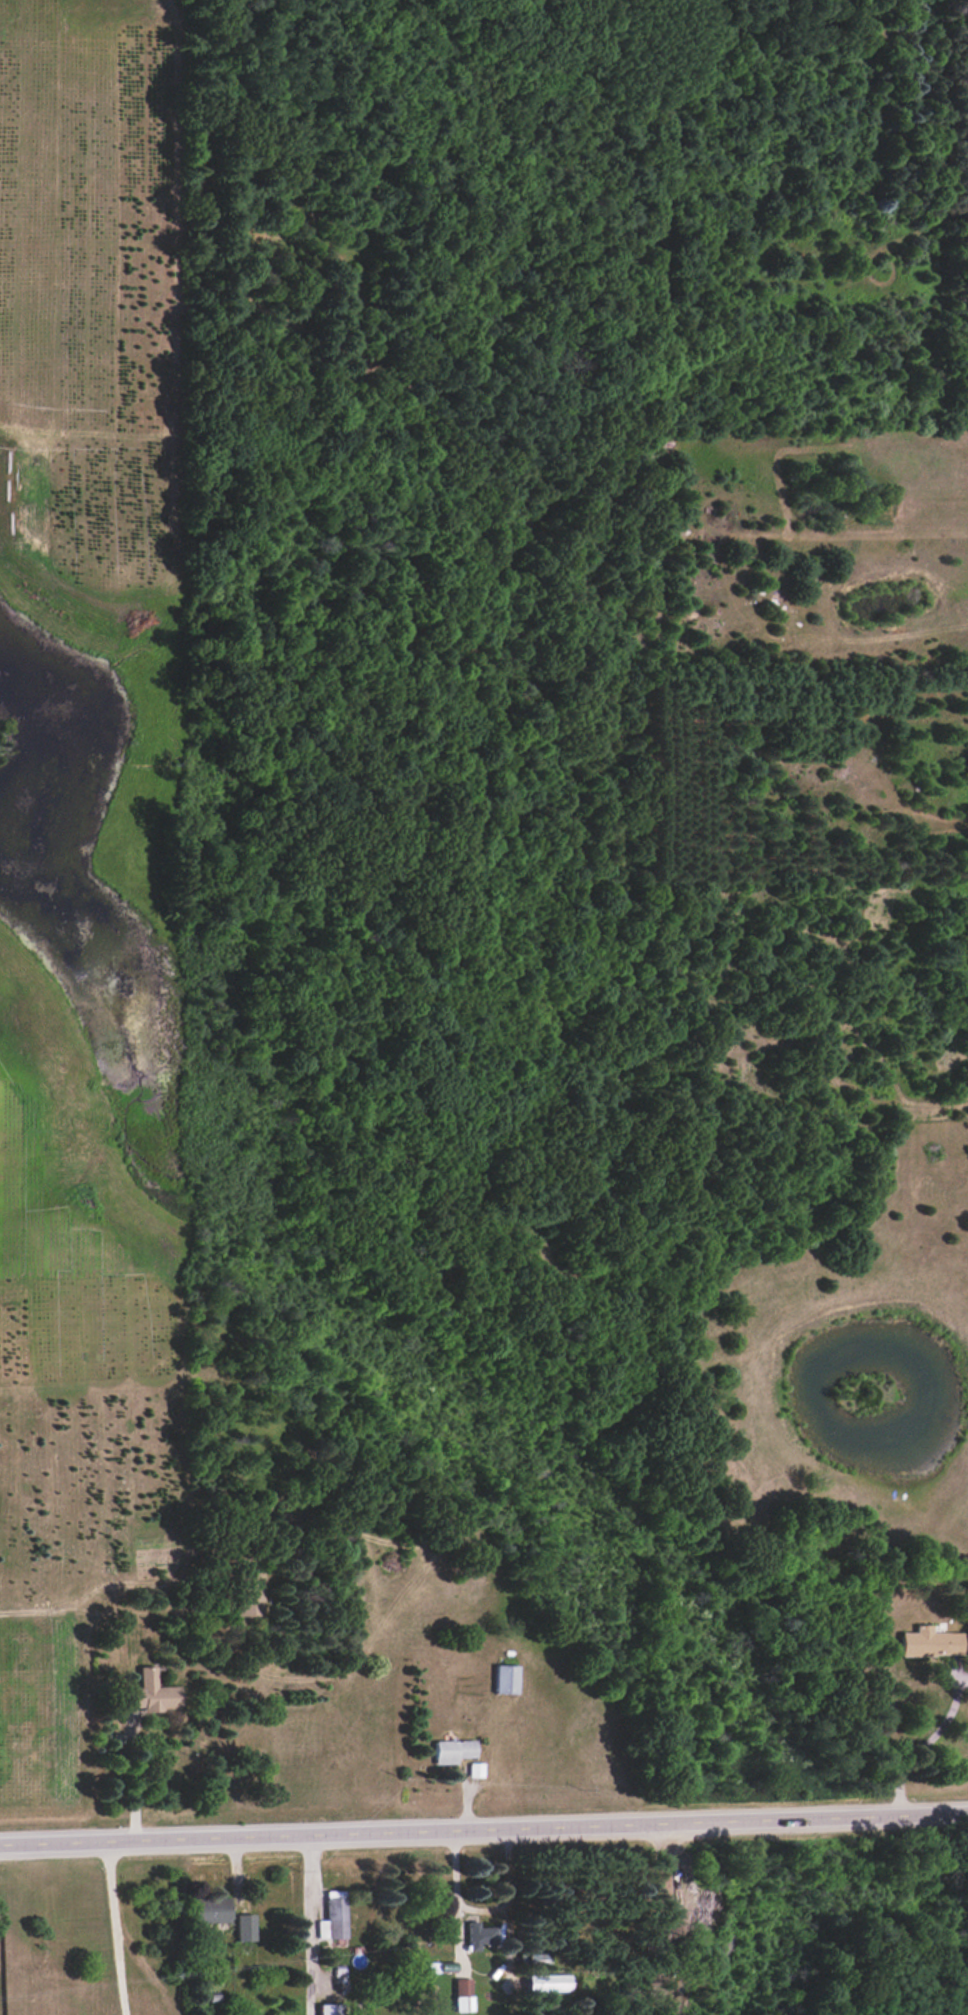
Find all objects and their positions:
building: (248, 1594)
building: (929, 1642)
building: (504, 1679)
building: (149, 1693)
road: (931, 1738)
building: (451, 1750)
building: (474, 1769)
road: (132, 1783)
road: (483, 1827)
road: (478, 1909)
building: (209, 1910)
building: (332, 1916)
road: (306, 1924)
building: (243, 1927)
road: (113, 1928)
building: (478, 1936)
building: (461, 1994)

